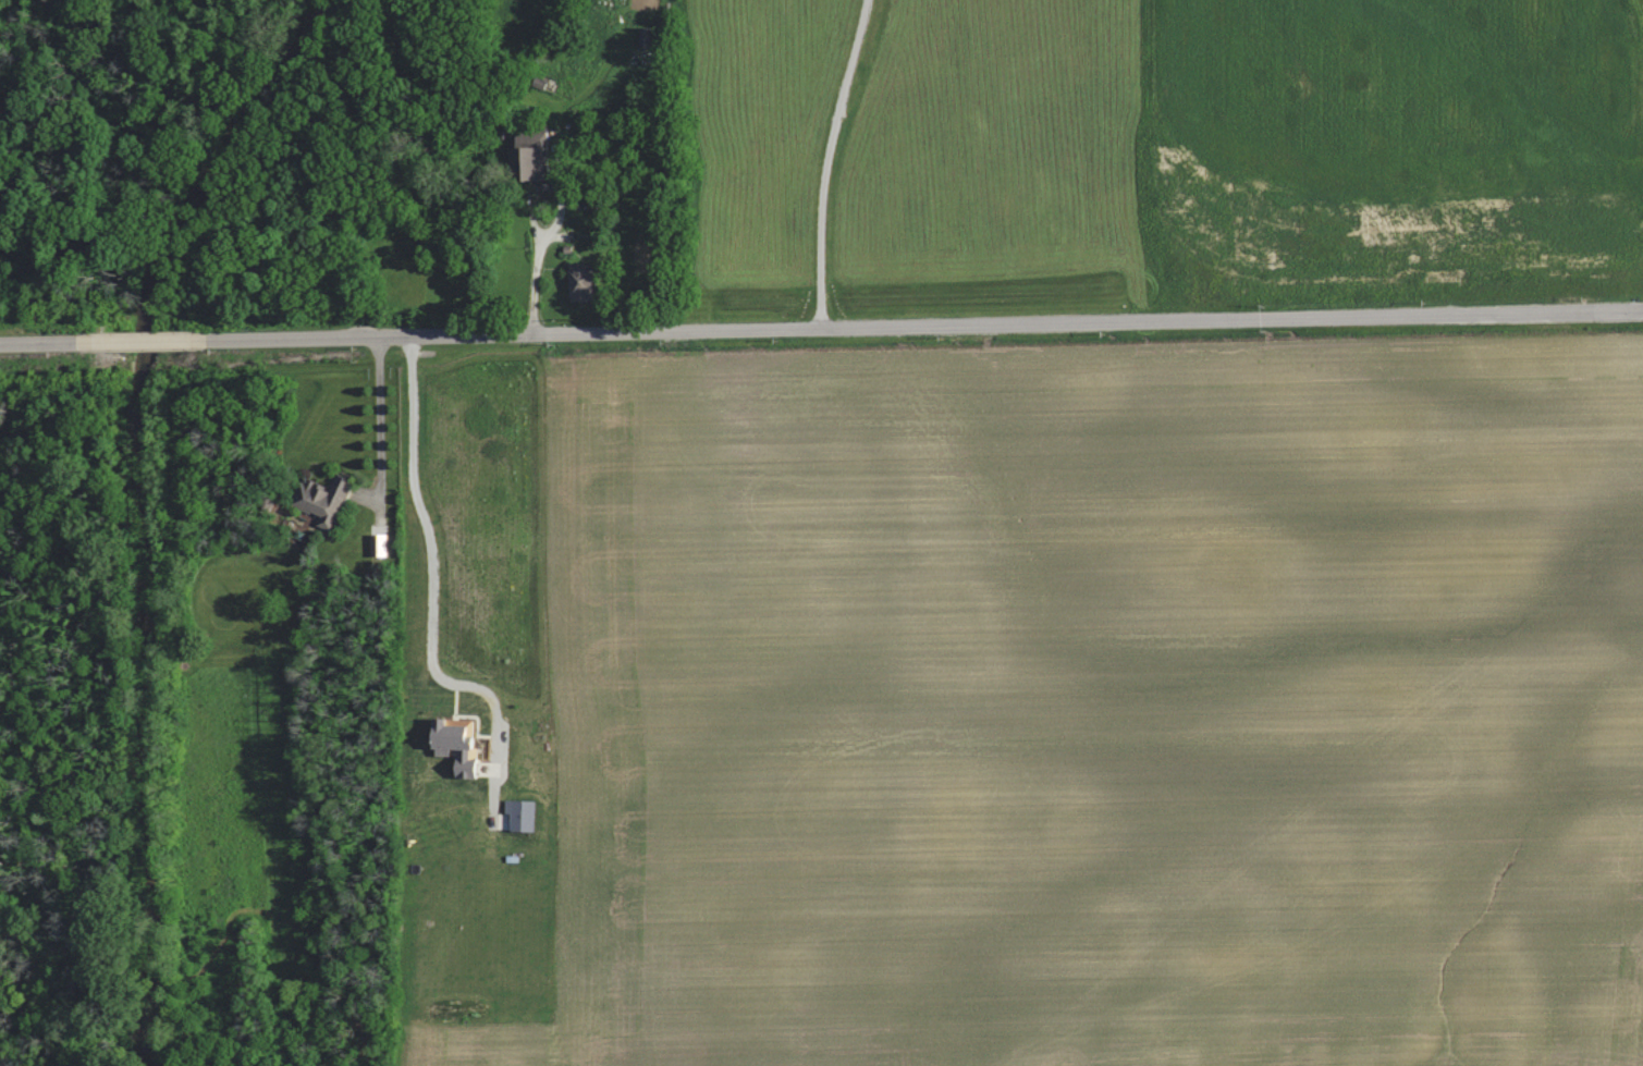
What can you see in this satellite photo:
road: (830, 151)
building: (529, 154)
building: (578, 283)
road: (821, 307)
road: (381, 408)
building: (321, 500)
road: (418, 503)
building: (453, 745)
building: (518, 814)

